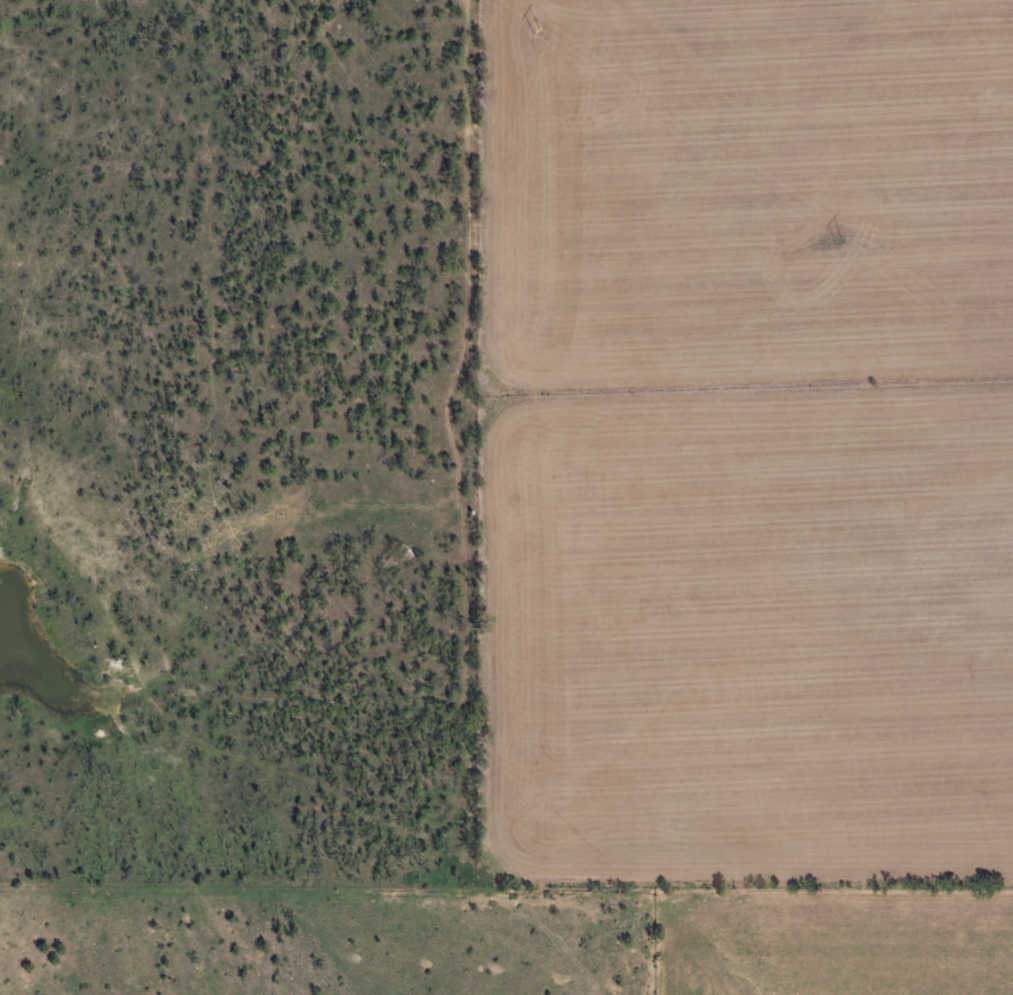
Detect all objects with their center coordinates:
power tower: (535, 31)
power tower: (833, 240)

